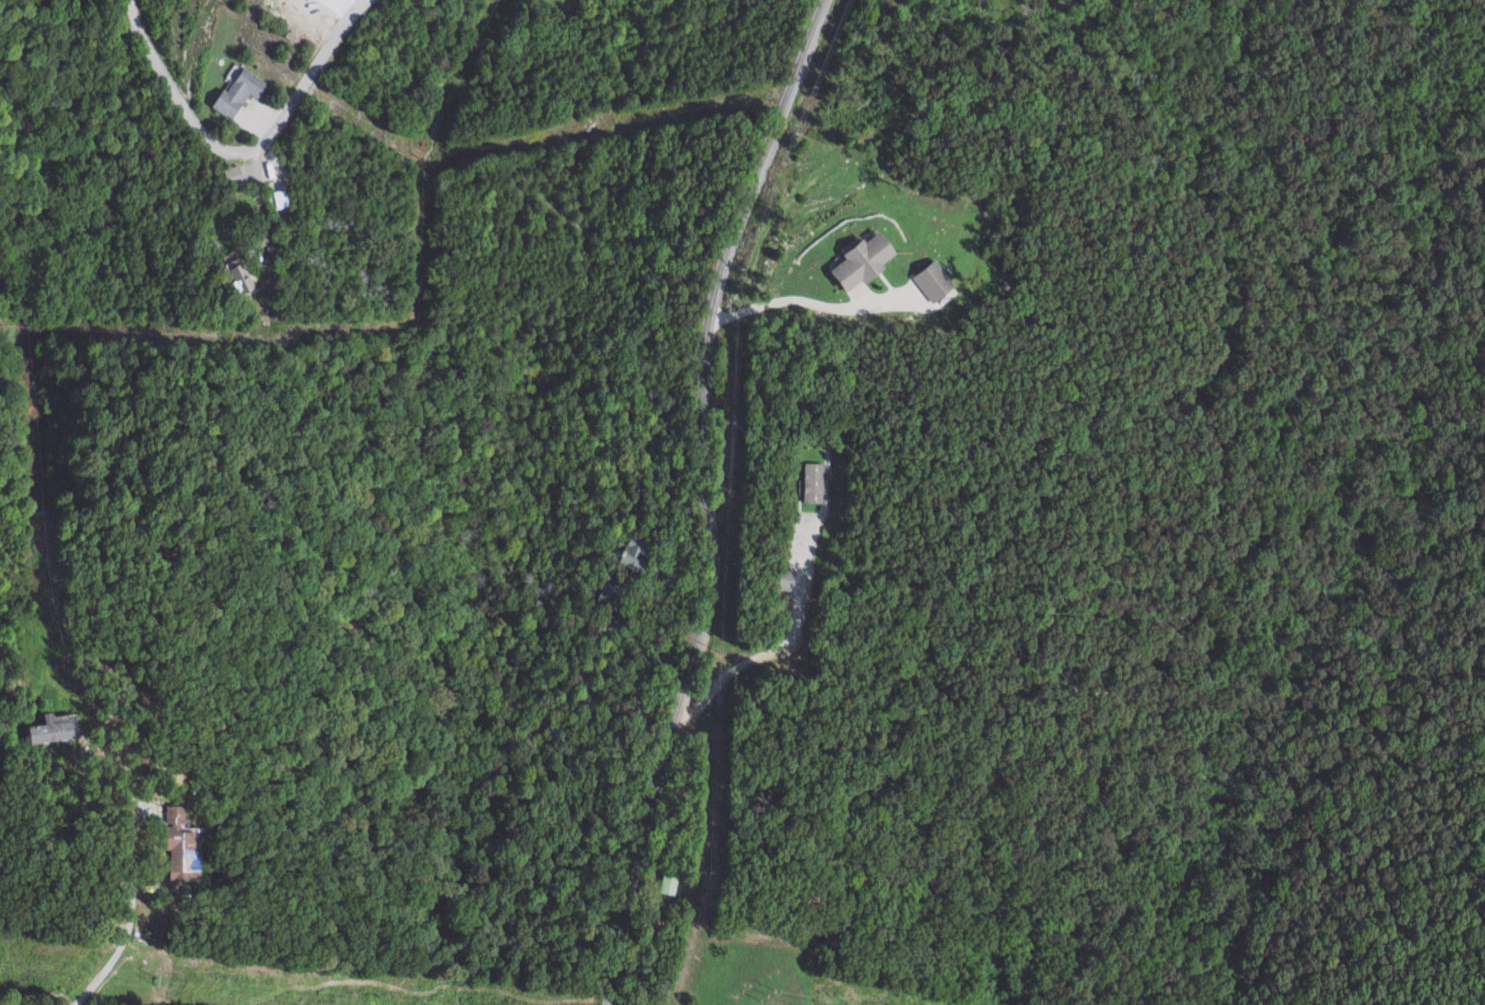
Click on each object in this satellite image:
building: (241, 92)
road: (243, 152)
building: (233, 175)
building: (281, 199)
road: (260, 203)
building: (863, 262)
road: (82, 276)
building: (934, 283)
building: (813, 482)
road: (704, 498)
building: (630, 552)
building: (786, 580)
building: (604, 594)
road: (784, 647)
road: (643, 659)
building: (55, 728)
building: (181, 847)
road: (147, 860)
power tower: (162, 979)
power tower: (769, 996)

